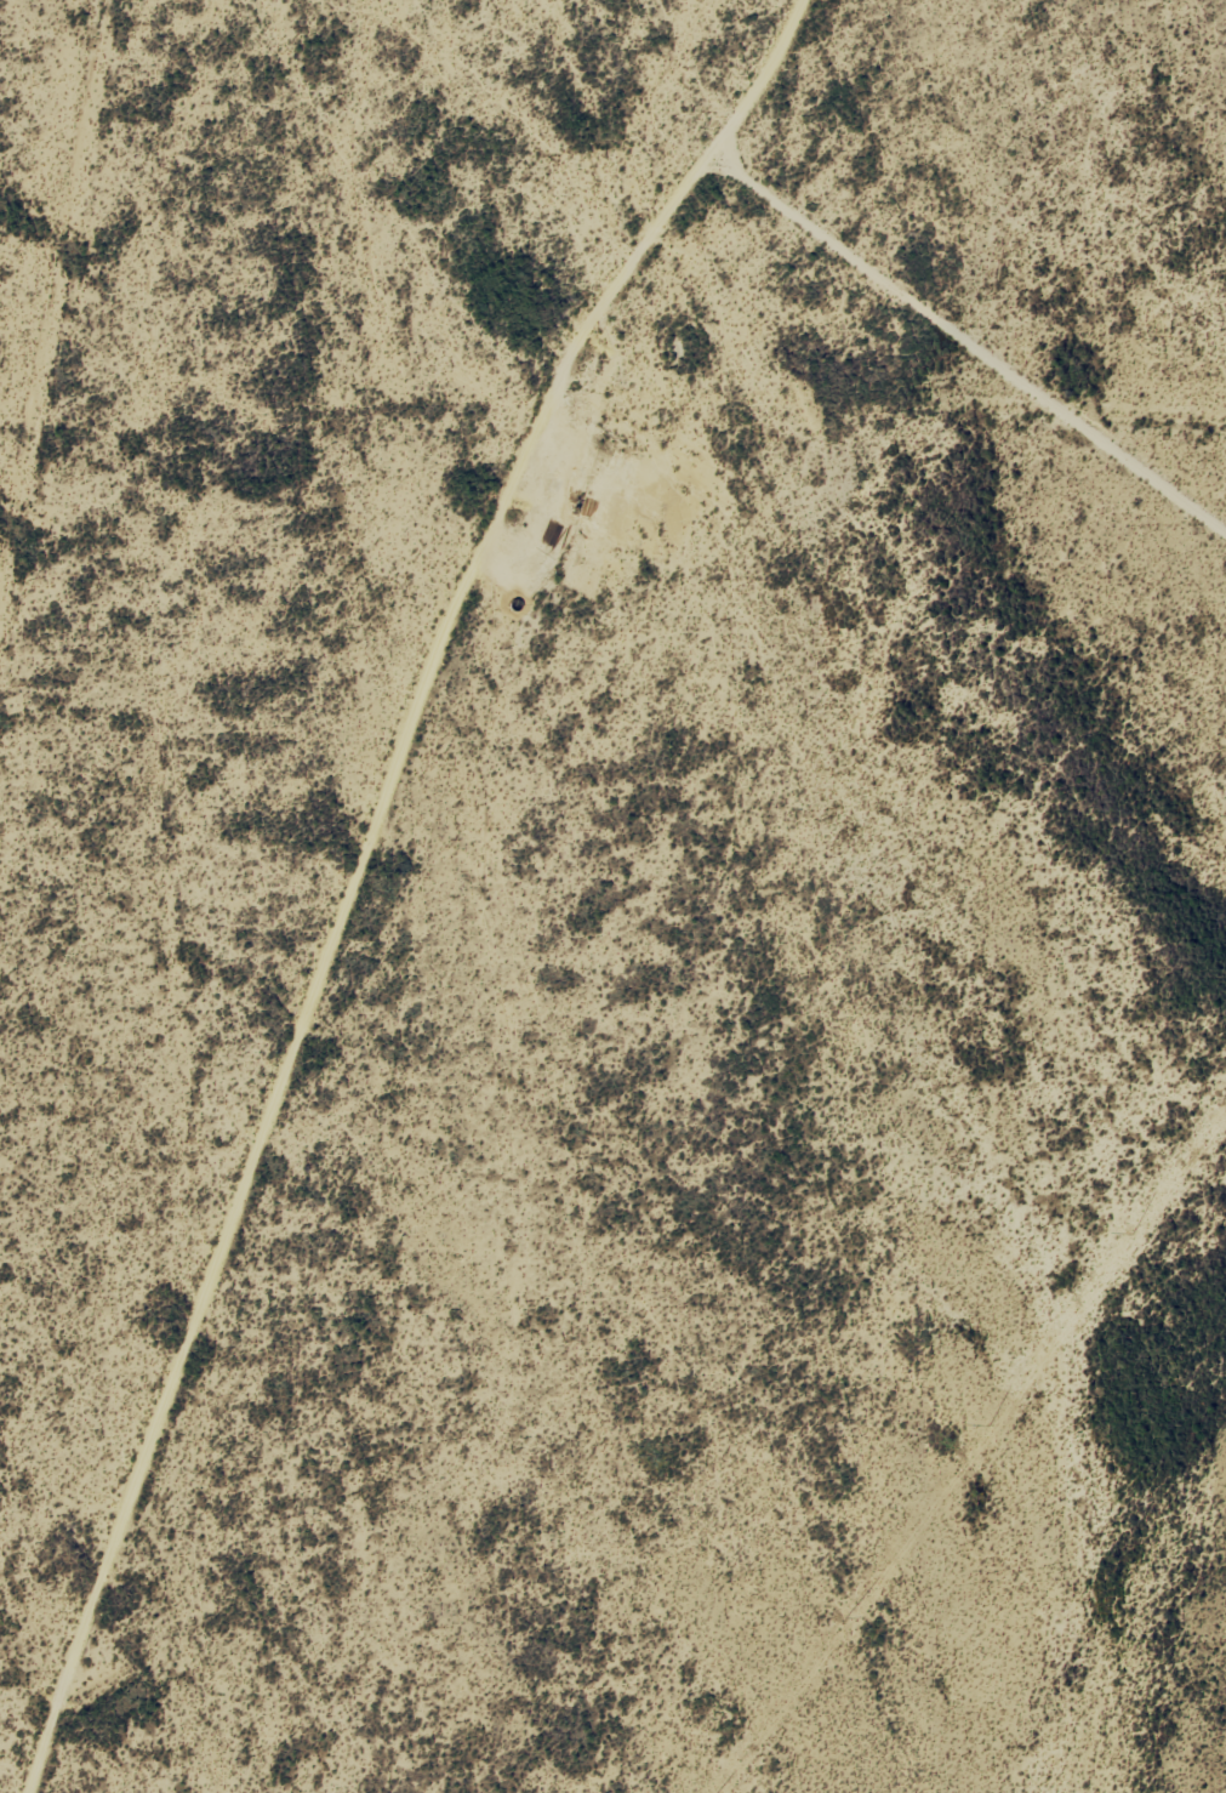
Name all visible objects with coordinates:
power tower: (1131, 1235)
power tower: (988, 1428)
power tower: (845, 1620)

